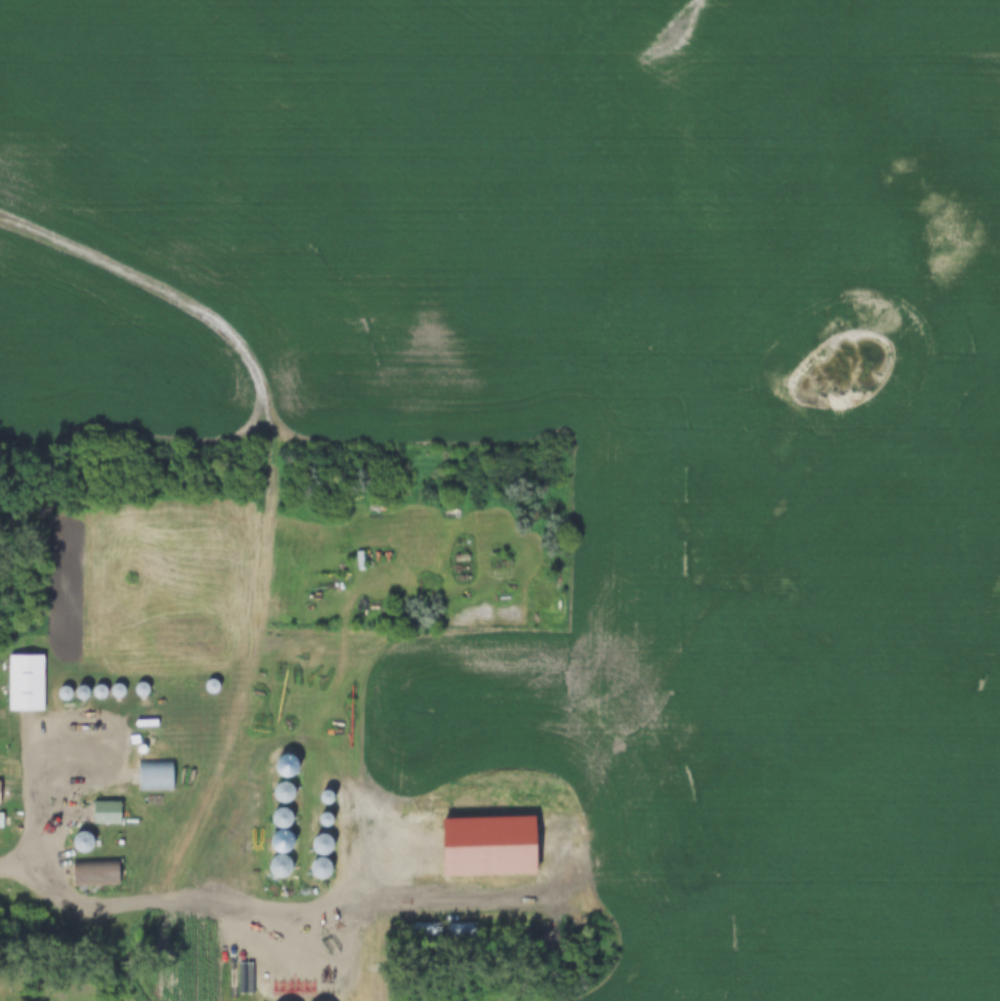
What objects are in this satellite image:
building: (26, 684)
road: (54, 714)
building: (75, 747)
building: (156, 778)
building: (0, 792)
building: (106, 813)
building: (283, 819)
building: (83, 843)
building: (319, 864)
building: (280, 867)
building: (96, 873)
road: (175, 900)

